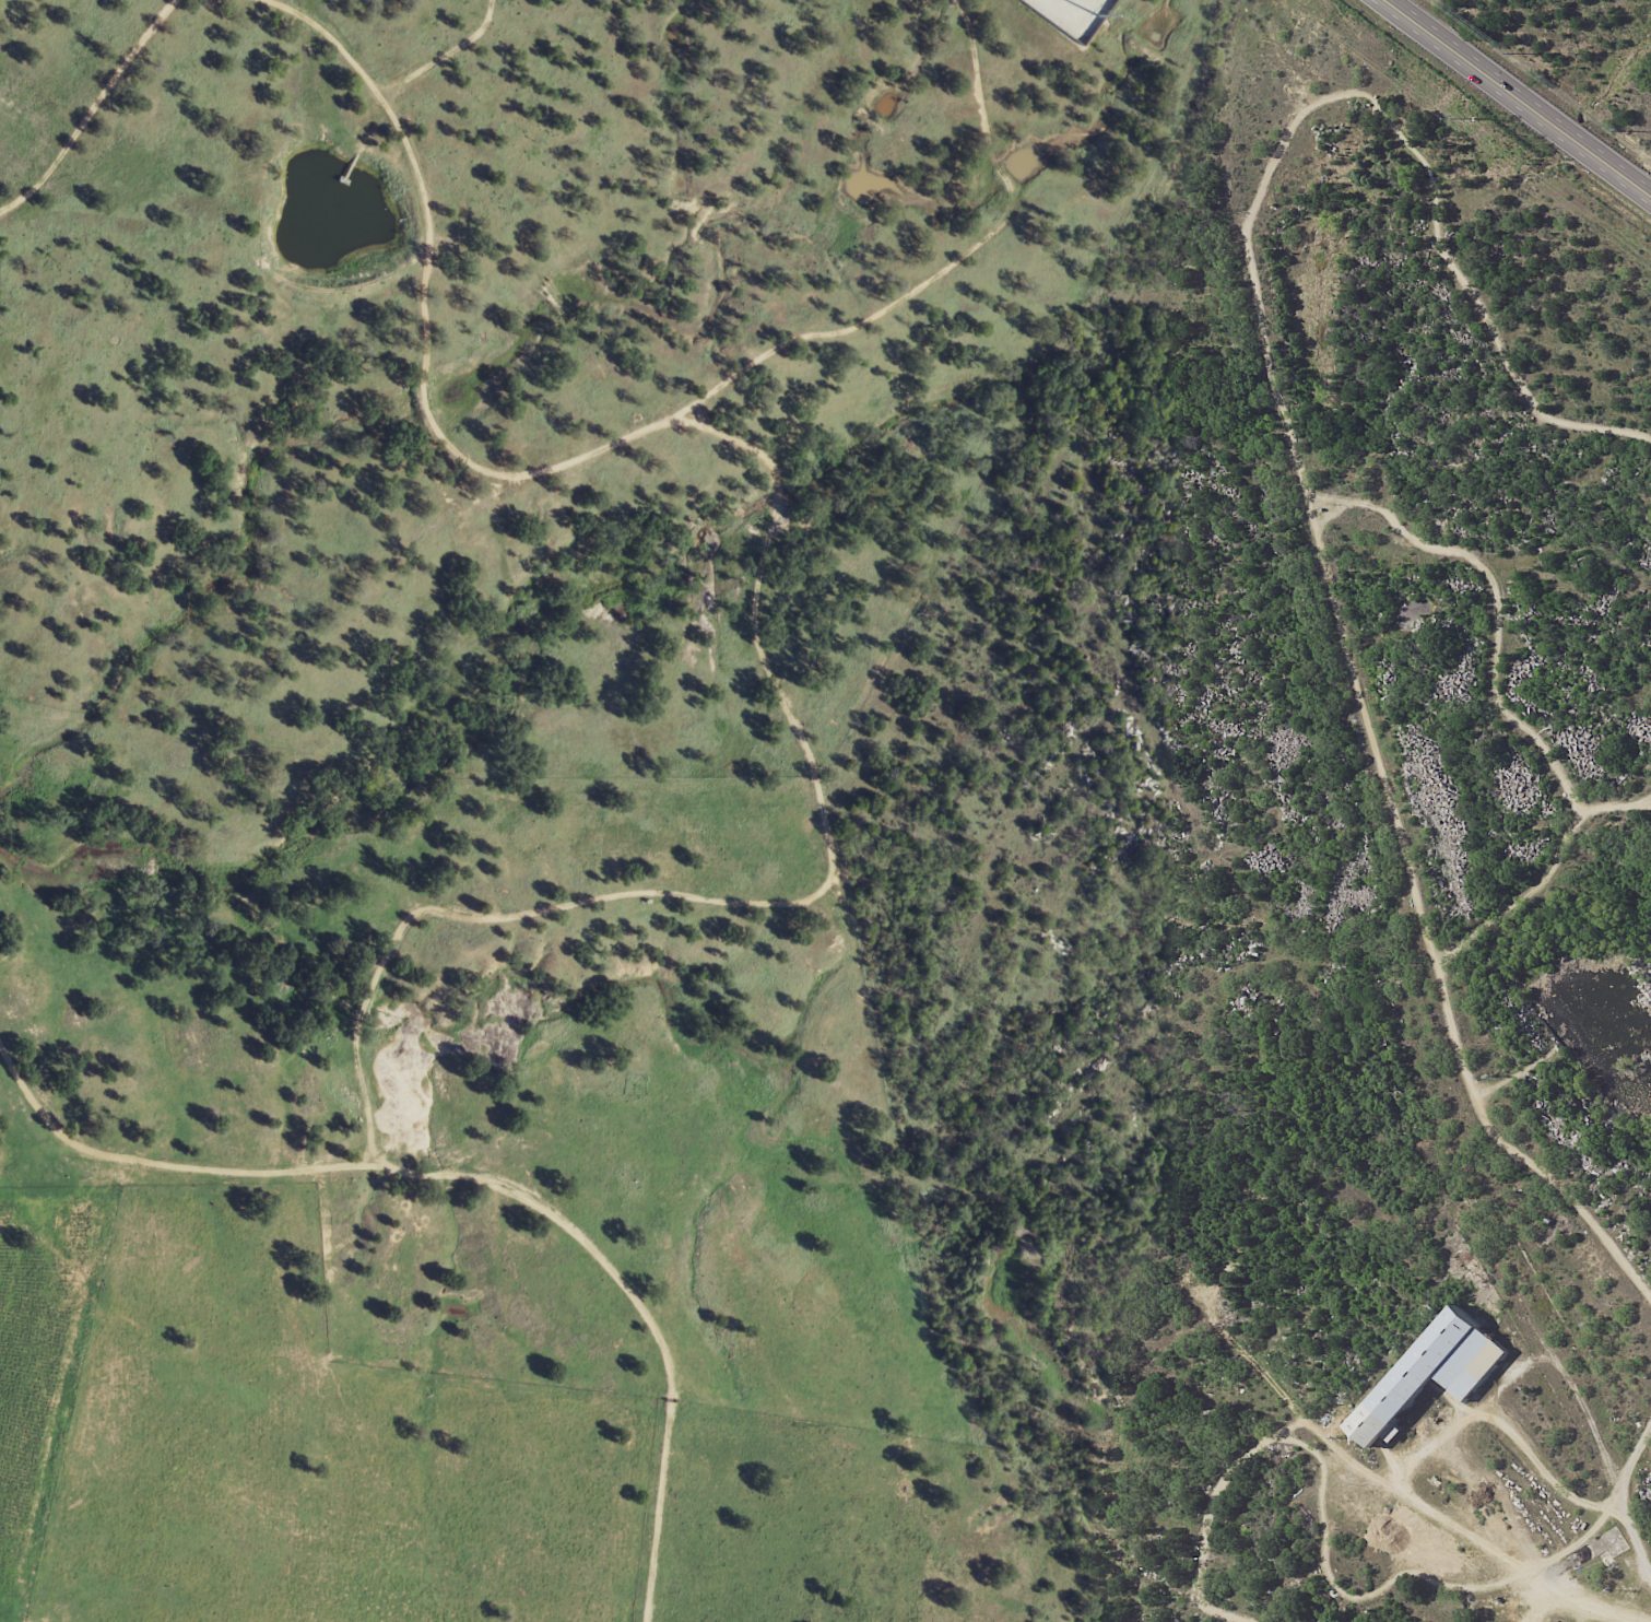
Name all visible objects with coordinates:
power substation: (1072, 14)
road: (115, 48)
road: (1518, 98)
road: (291, 350)
railway: (1310, 544)
quarry: (1585, 1067)
road: (1564, 1348)
building: (1438, 1373)
road: (1541, 1467)
road: (1418, 1507)
road: (1571, 1544)

